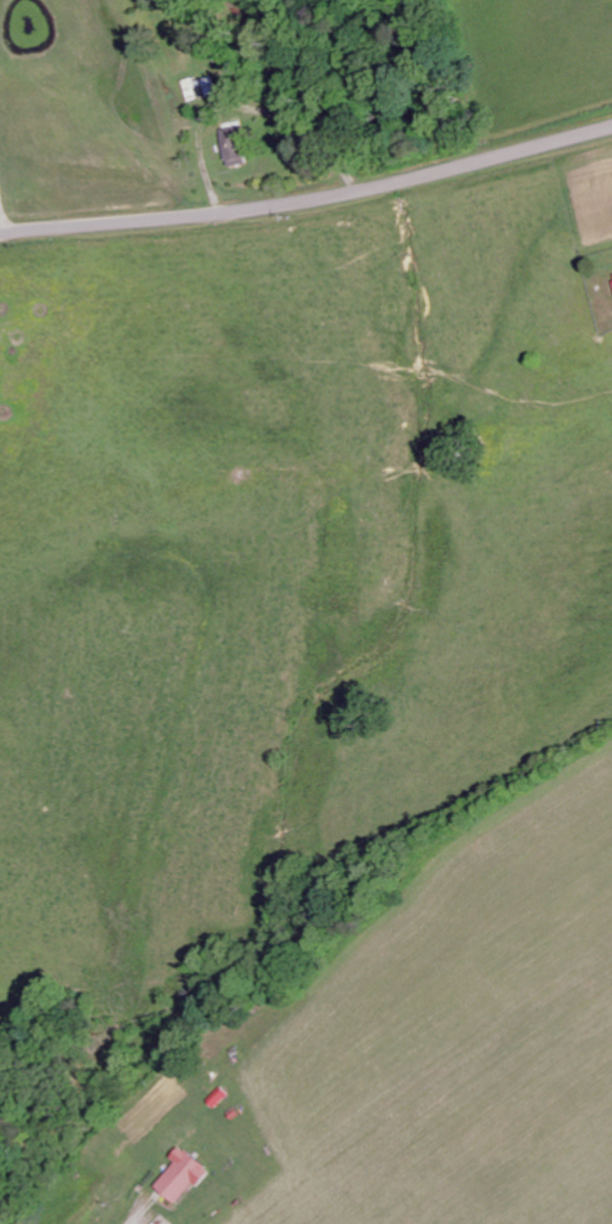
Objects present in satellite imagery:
building: (236, 147)
road: (309, 200)
building: (185, 1177)

